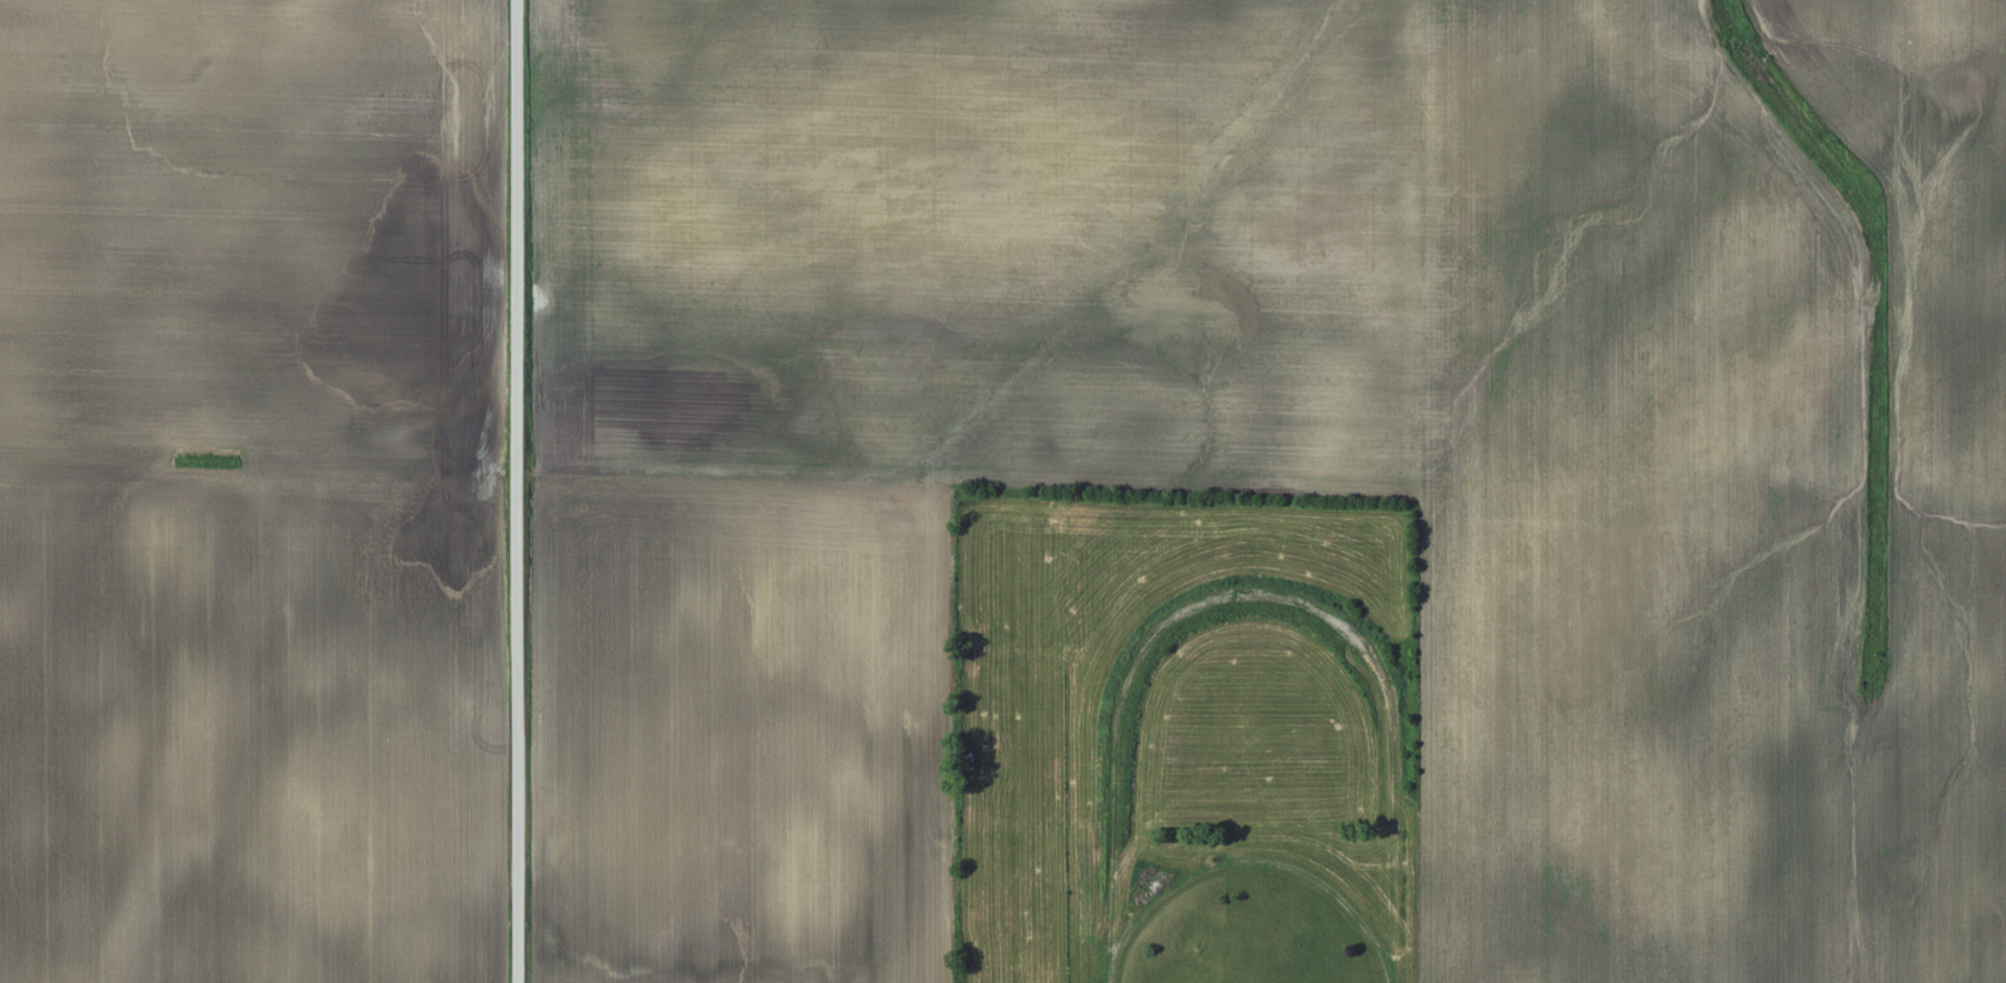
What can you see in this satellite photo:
road: (515, 491)
road: (1649, 958)

